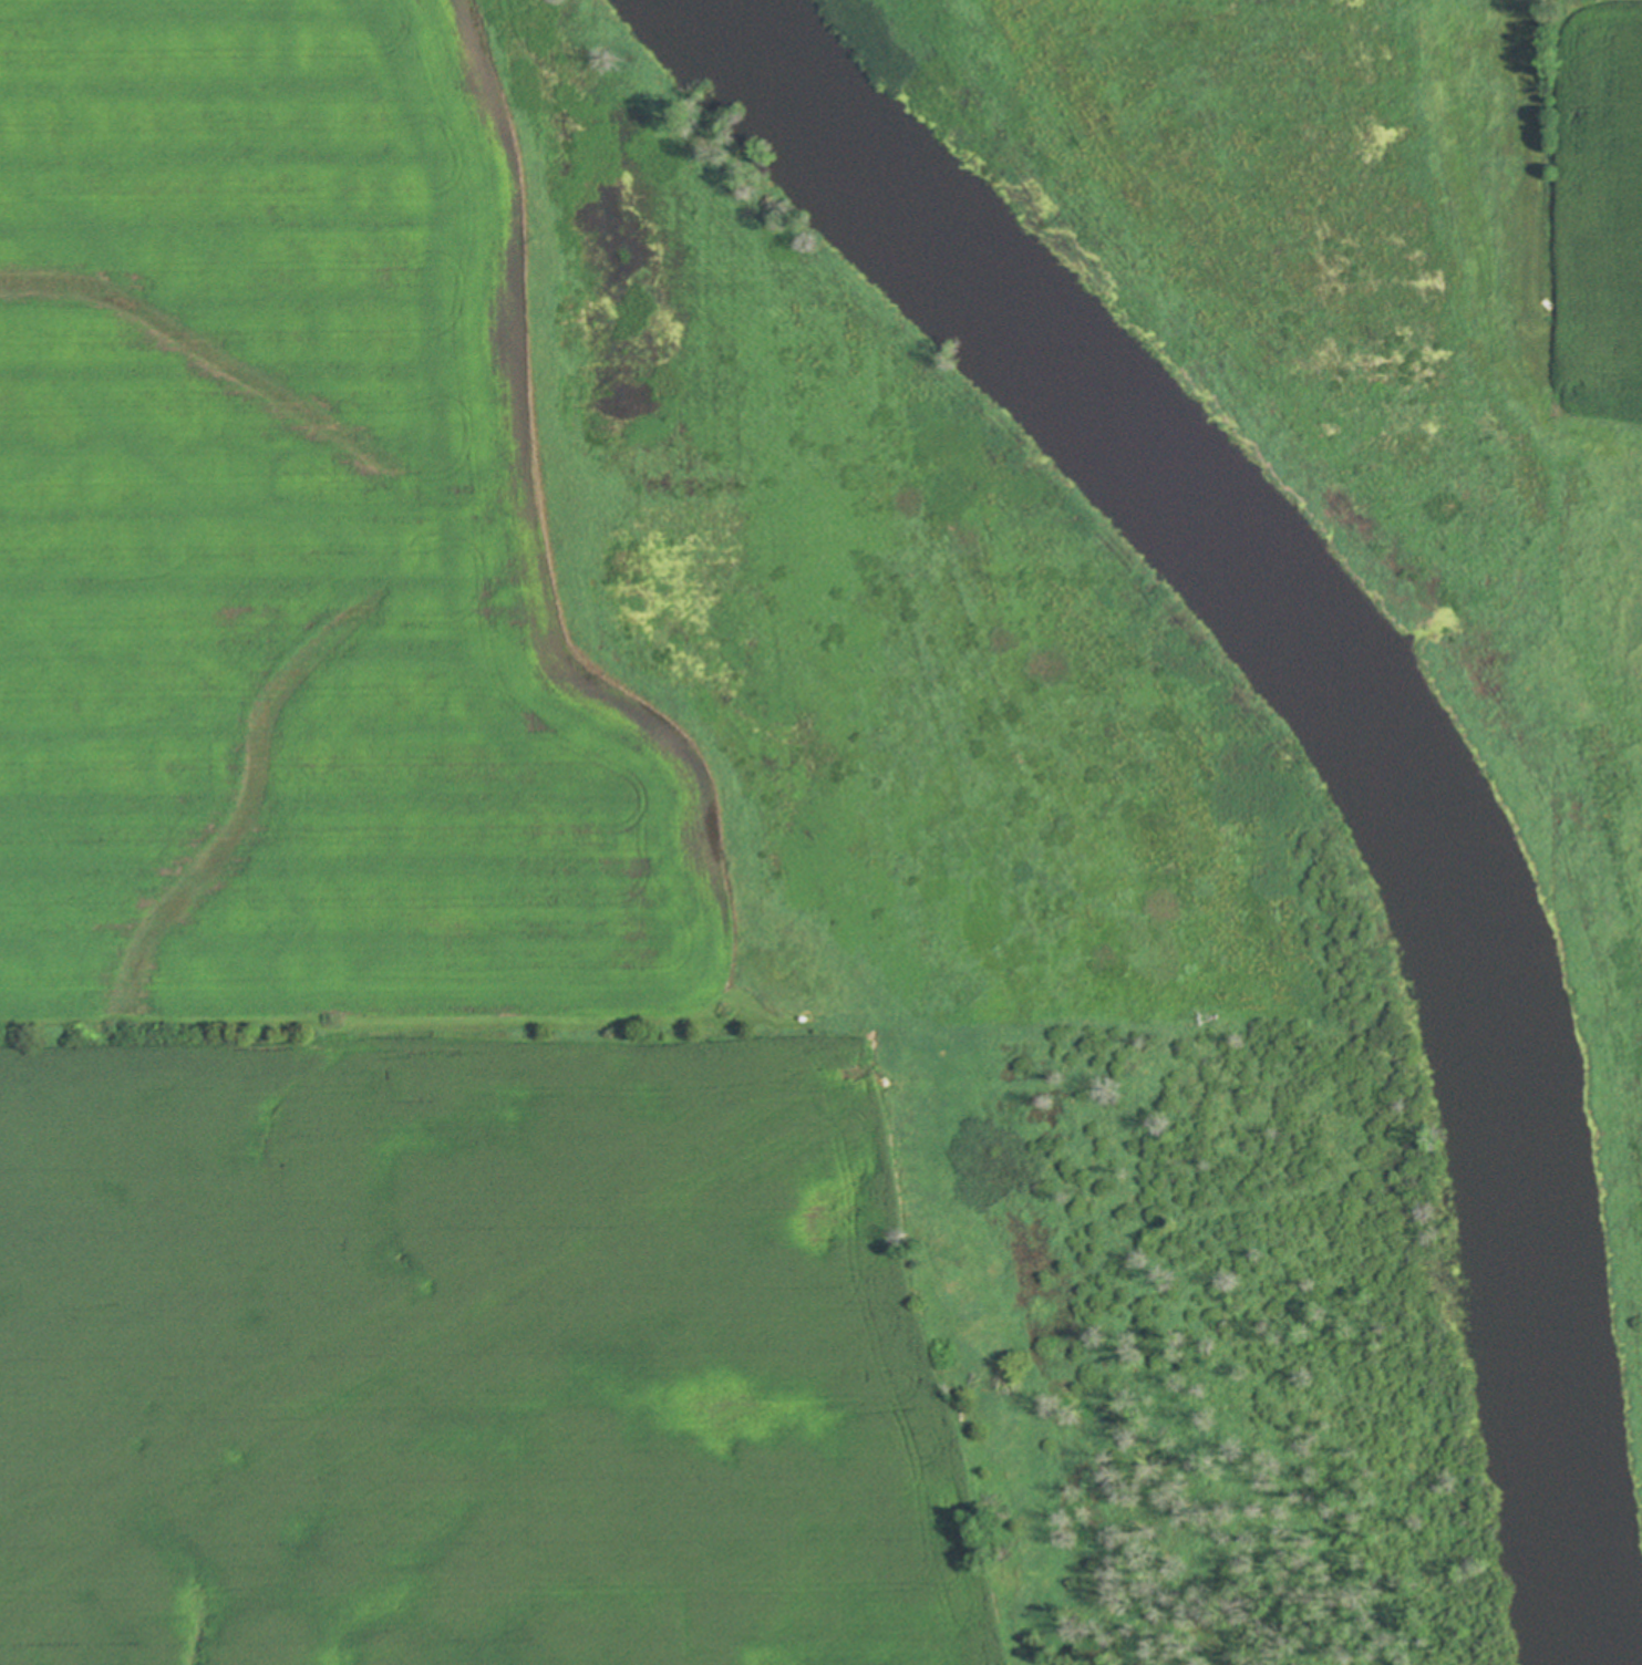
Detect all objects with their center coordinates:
river: (1365, 717)

